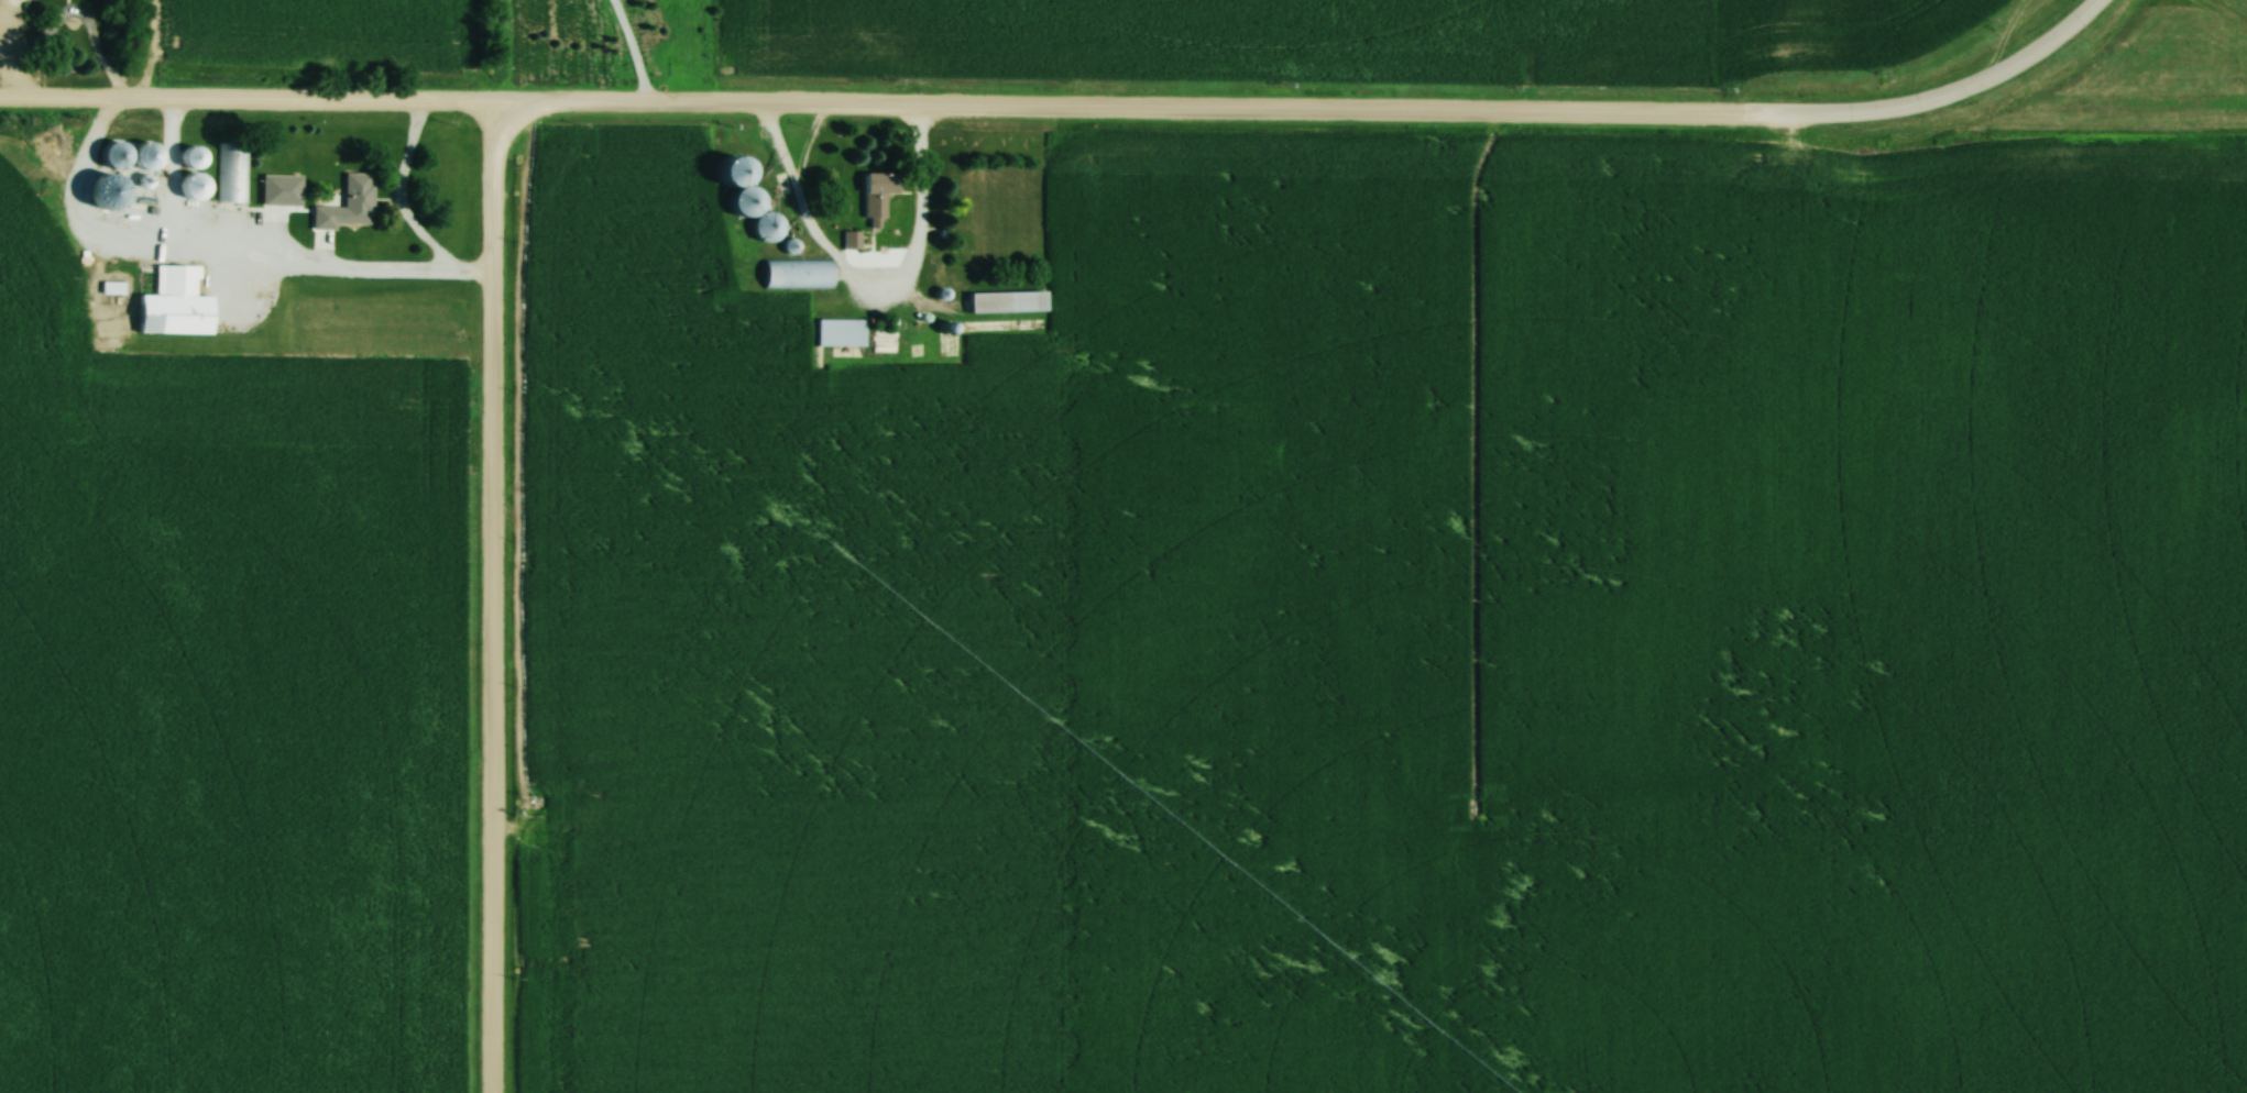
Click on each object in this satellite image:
road: (64, 16)
crop: (319, 32)
crop: (1353, 33)
road: (1932, 88)
road: (875, 109)
building: (229, 169)
building: (875, 194)
road: (395, 200)
building: (748, 201)
building: (346, 205)
road: (262, 266)
road: (863, 268)
building: (796, 272)
building: (1005, 300)
building: (173, 303)
building: (838, 331)
road: (485, 599)

